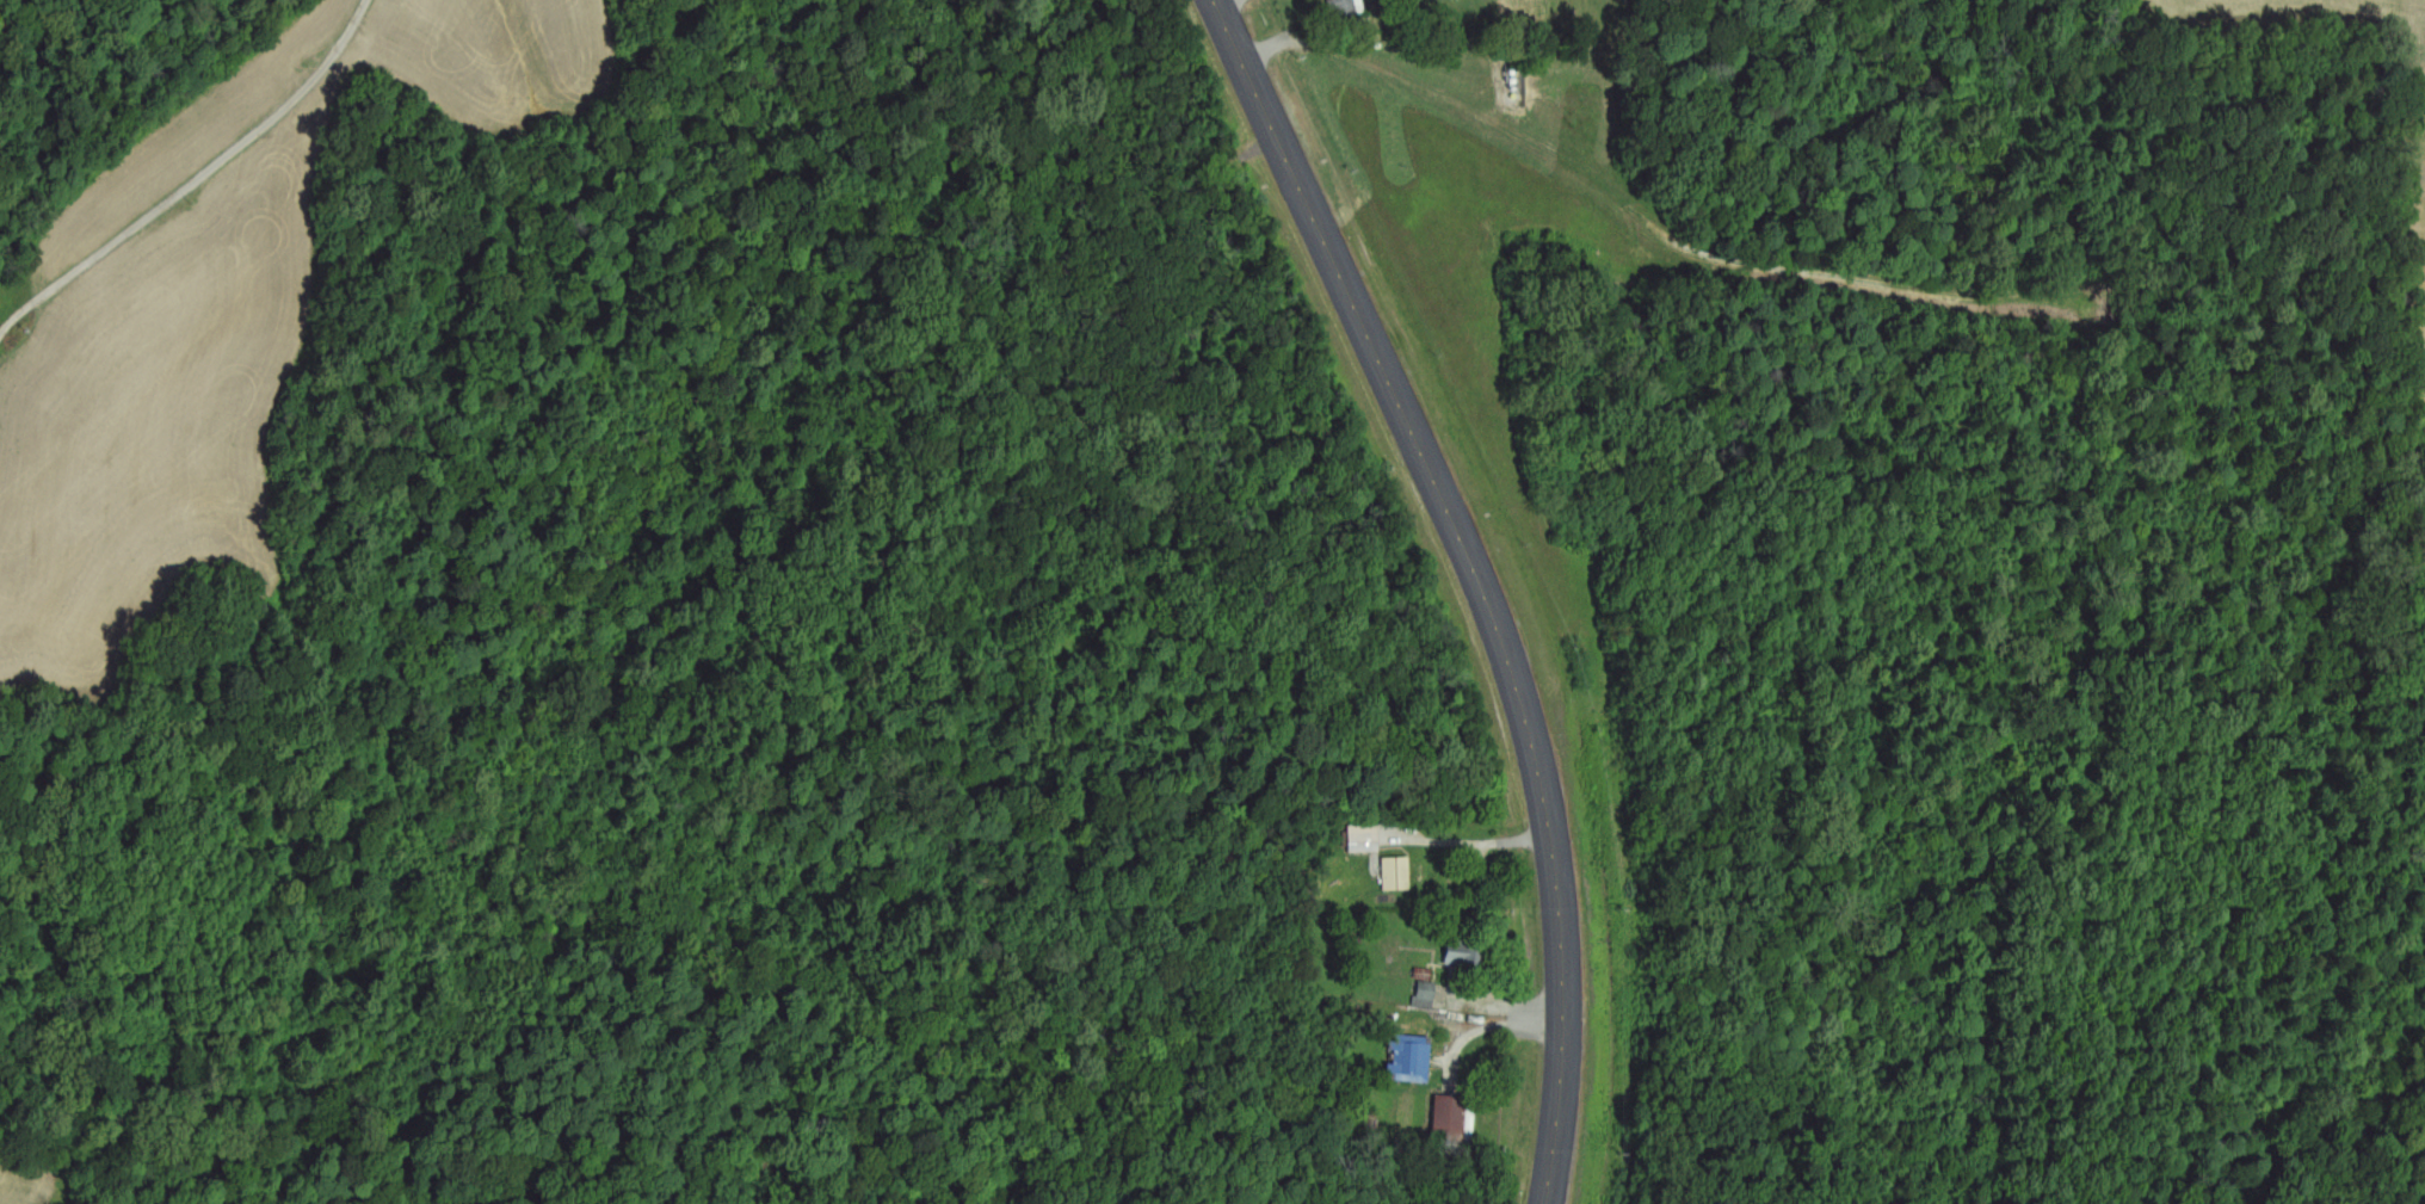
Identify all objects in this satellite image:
building: (1346, 7)
road: (1483, 113)
road: (197, 181)
road: (1481, 579)
road: (1479, 842)
building: (1396, 872)
building: (1463, 956)
road: (1501, 1025)
building: (1411, 1057)

